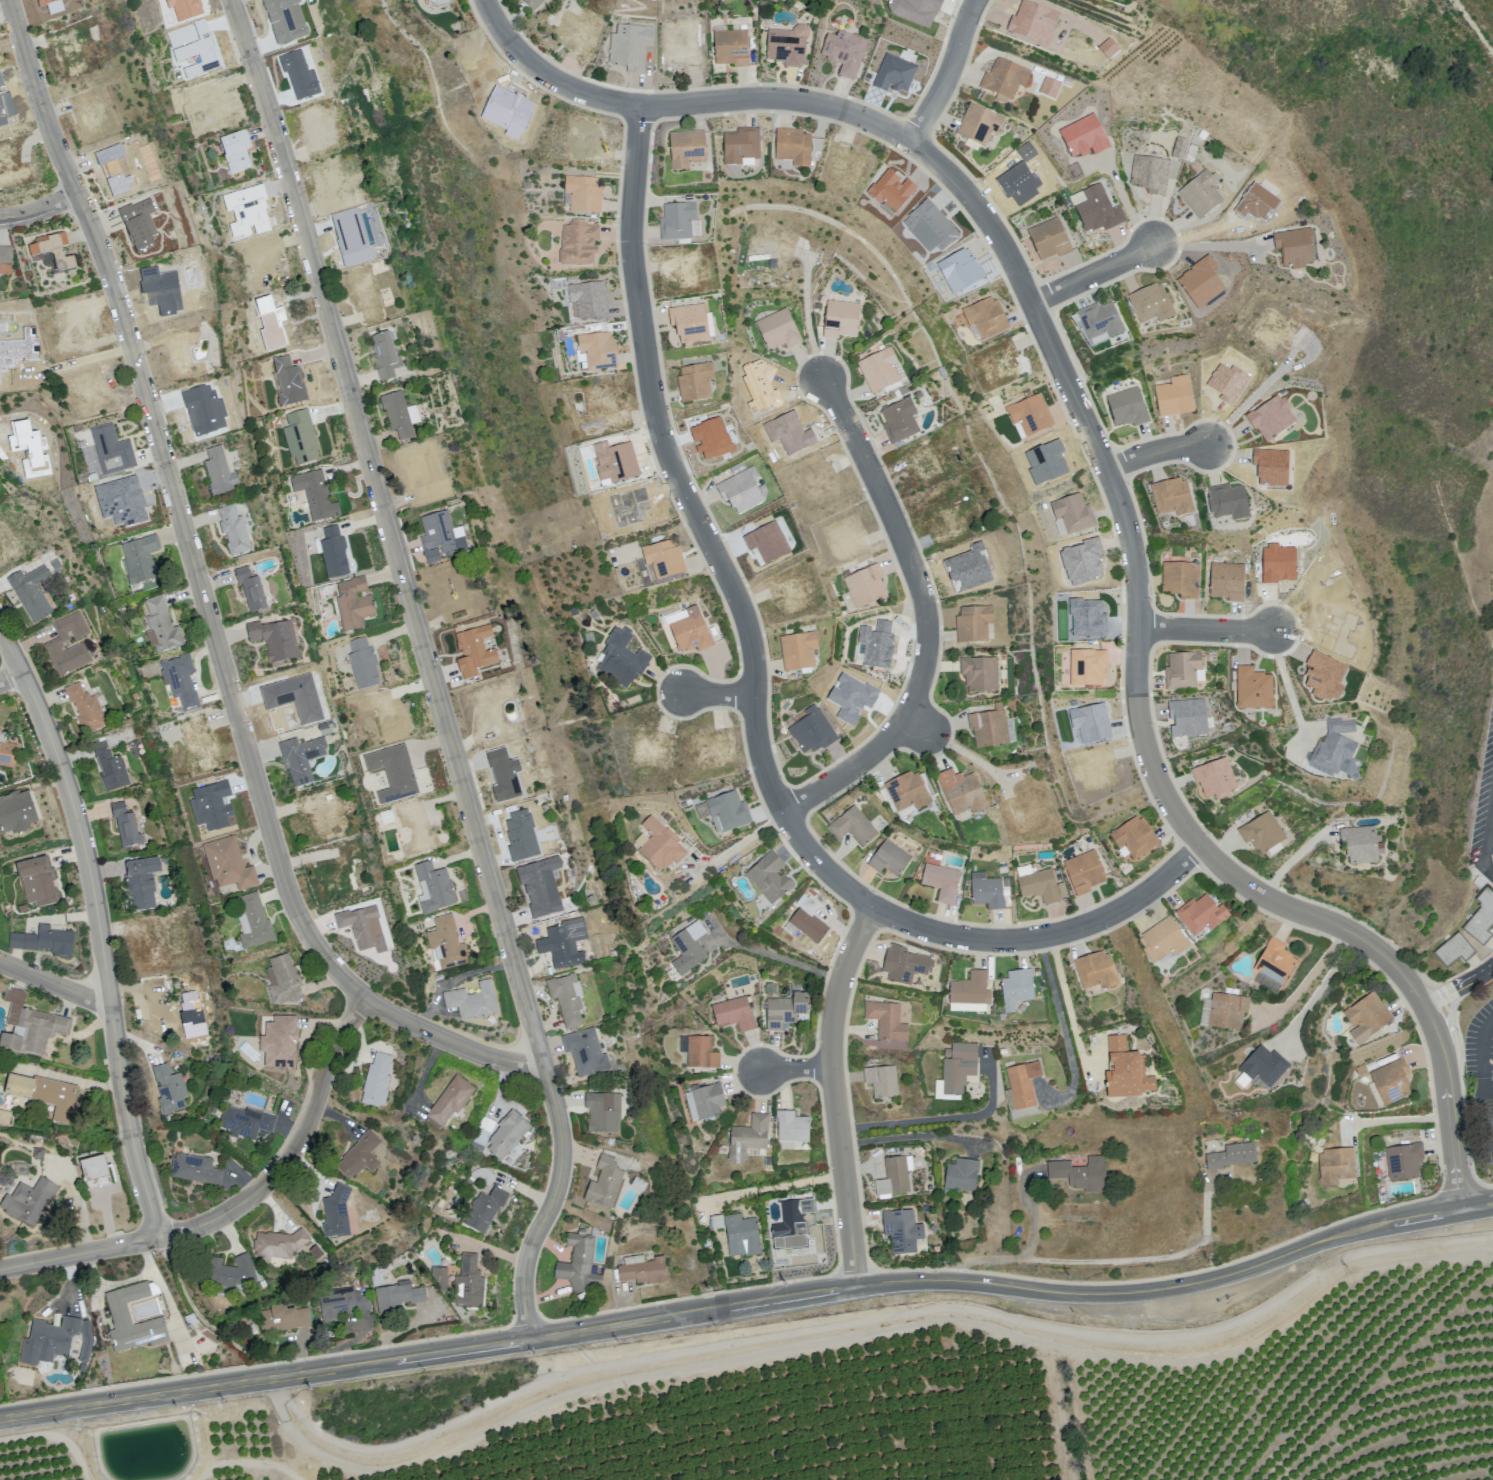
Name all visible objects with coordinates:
building: (535, 4)
building: (1034, 20)
building: (790, 46)
building: (630, 48)
building: (733, 48)
building: (1110, 49)
road: (952, 74)
building: (1007, 79)
building: (1053, 87)
building: (981, 126)
building: (742, 147)
building: (1178, 147)
building: (795, 148)
building: (688, 150)
building: (236, 154)
building: (1153, 175)
building: (585, 195)
building: (1202, 196)
road: (1128, 203)
building: (1100, 211)
road: (42, 212)
building: (679, 223)
building: (1052, 241)
building: (579, 247)
road: (1210, 247)
building: (59, 253)
building: (7, 256)
road: (1096, 274)
building: (590, 300)
building: (1151, 310)
building: (989, 318)
building: (842, 320)
building: (691, 325)
building: (1099, 326)
building: (779, 331)
building: (599, 350)
building: (385, 353)
road: (84, 361)
building: (881, 370)
building: (697, 382)
building: (1177, 397)
road: (1243, 406)
building: (1130, 407)
building: (1033, 415)
building: (1274, 419)
building: (902, 421)
building: (395, 423)
road: (1, 429)
building: (116, 450)
road: (1155, 451)
building: (617, 463)
building: (223, 474)
road: (1112, 479)
building: (743, 491)
building: (1175, 497)
building: (317, 498)
building: (1232, 502)
building: (1075, 513)
road: (706, 528)
building: (238, 531)
building: (440, 537)
building: (768, 544)
building: (334, 555)
building: (144, 560)
building: (666, 560)
building: (1182, 579)
building: (1229, 581)
building: (867, 586)
building: (256, 592)
building: (34, 593)
road: (208, 598)
building: (354, 605)
road: (929, 618)
building: (976, 624)
building: (165, 627)
road: (1205, 629)
building: (692, 631)
building: (276, 641)
building: (58, 643)
building: (800, 652)
building: (478, 654)
building: (624, 659)
building: (364, 664)
road: (429, 668)
building: (1185, 671)
road: (10, 676)
building: (983, 676)
building: (185, 683)
road: (1287, 686)
road: (720, 694)
building: (90, 710)
building: (1192, 718)
building: (991, 729)
building: (1337, 747)
road: (956, 748)
building: (7, 751)
building: (301, 759)
building: (114, 768)
building: (1218, 779)
building: (909, 793)
building: (964, 793)
parking lot: (1483, 809)
building: (727, 812)
building: (130, 824)
building: (855, 828)
road: (1488, 828)
building: (1266, 833)
building: (1137, 839)
building: (1363, 845)
road: (737, 846)
building: (660, 847)
building: (891, 860)
building: (233, 865)
road: (1488, 866)
building: (1086, 874)
building: (770, 879)
building: (38, 882)
building: (145, 882)
building: (944, 883)
building: (1042, 887)
building: (437, 889)
building: (990, 894)
building: (1479, 914)
building: (1205, 915)
building: (257, 922)
building: (811, 922)
road: (100, 928)
building: (364, 928)
road: (1050, 934)
building: (1167, 940)
building: (44, 941)
building: (447, 943)
building: (1453, 946)
building: (690, 952)
building: (560, 953)
road: (782, 959)
building: (1277, 962)
building: (905, 965)
building: (1099, 971)
road: (1308, 976)
building: (288, 981)
building: (1266, 981)
road: (55, 986)
road: (1458, 987)
road: (1319, 988)
building: (1019, 989)
building: (973, 990)
building: (473, 1001)
road: (1067, 1002)
building: (568, 1004)
building: (787, 1009)
building: (1231, 1011)
building: (735, 1013)
building: (1370, 1017)
building: (889, 1021)
road: (1062, 1025)
building: (34, 1027)
building: (895, 1044)
building: (702, 1053)
building: (583, 1054)
parking lot: (1481, 1065)
building: (1268, 1066)
road: (796, 1068)
building: (960, 1068)
building: (1129, 1071)
road: (1481, 1076)
building: (377, 1081)
building: (1394, 1082)
building: (882, 1086)
building: (1023, 1086)
building: (174, 1090)
road: (832, 1092)
building: (49, 1095)
building: (451, 1101)
building: (709, 1101)
building: (604, 1112)
road: (1394, 1118)
road: (936, 1119)
building: (248, 1125)
building: (793, 1126)
building: (483, 1135)
building: (509, 1135)
road: (908, 1136)
building: (749, 1138)
building: (360, 1156)
building: (1234, 1156)
building: (1408, 1162)
building: (1339, 1166)
building: (198, 1169)
building: (95, 1171)
building: (1083, 1174)
building: (964, 1176)
building: (894, 1179)
building: (605, 1184)
road: (772, 1188)
building: (27, 1201)
road: (236, 1204)
road: (1478, 1206)
building: (336, 1212)
building: (486, 1212)
building: (793, 1221)
building: (904, 1232)
building: (741, 1234)
building: (283, 1245)
road: (1028, 1254)
road: (1148, 1258)
building: (580, 1264)
building: (232, 1271)
building: (643, 1271)
building: (463, 1283)
road: (110, 1284)
road: (1164, 1287)
building: (399, 1295)
road: (167, 1299)
building: (342, 1303)
building: (122, 1311)
building: (291, 1317)
building: (52, 1342)
building: (89, 1343)
road: (427, 1354)
building: (86, 1370)
wastewater plant: (145, 1450)

